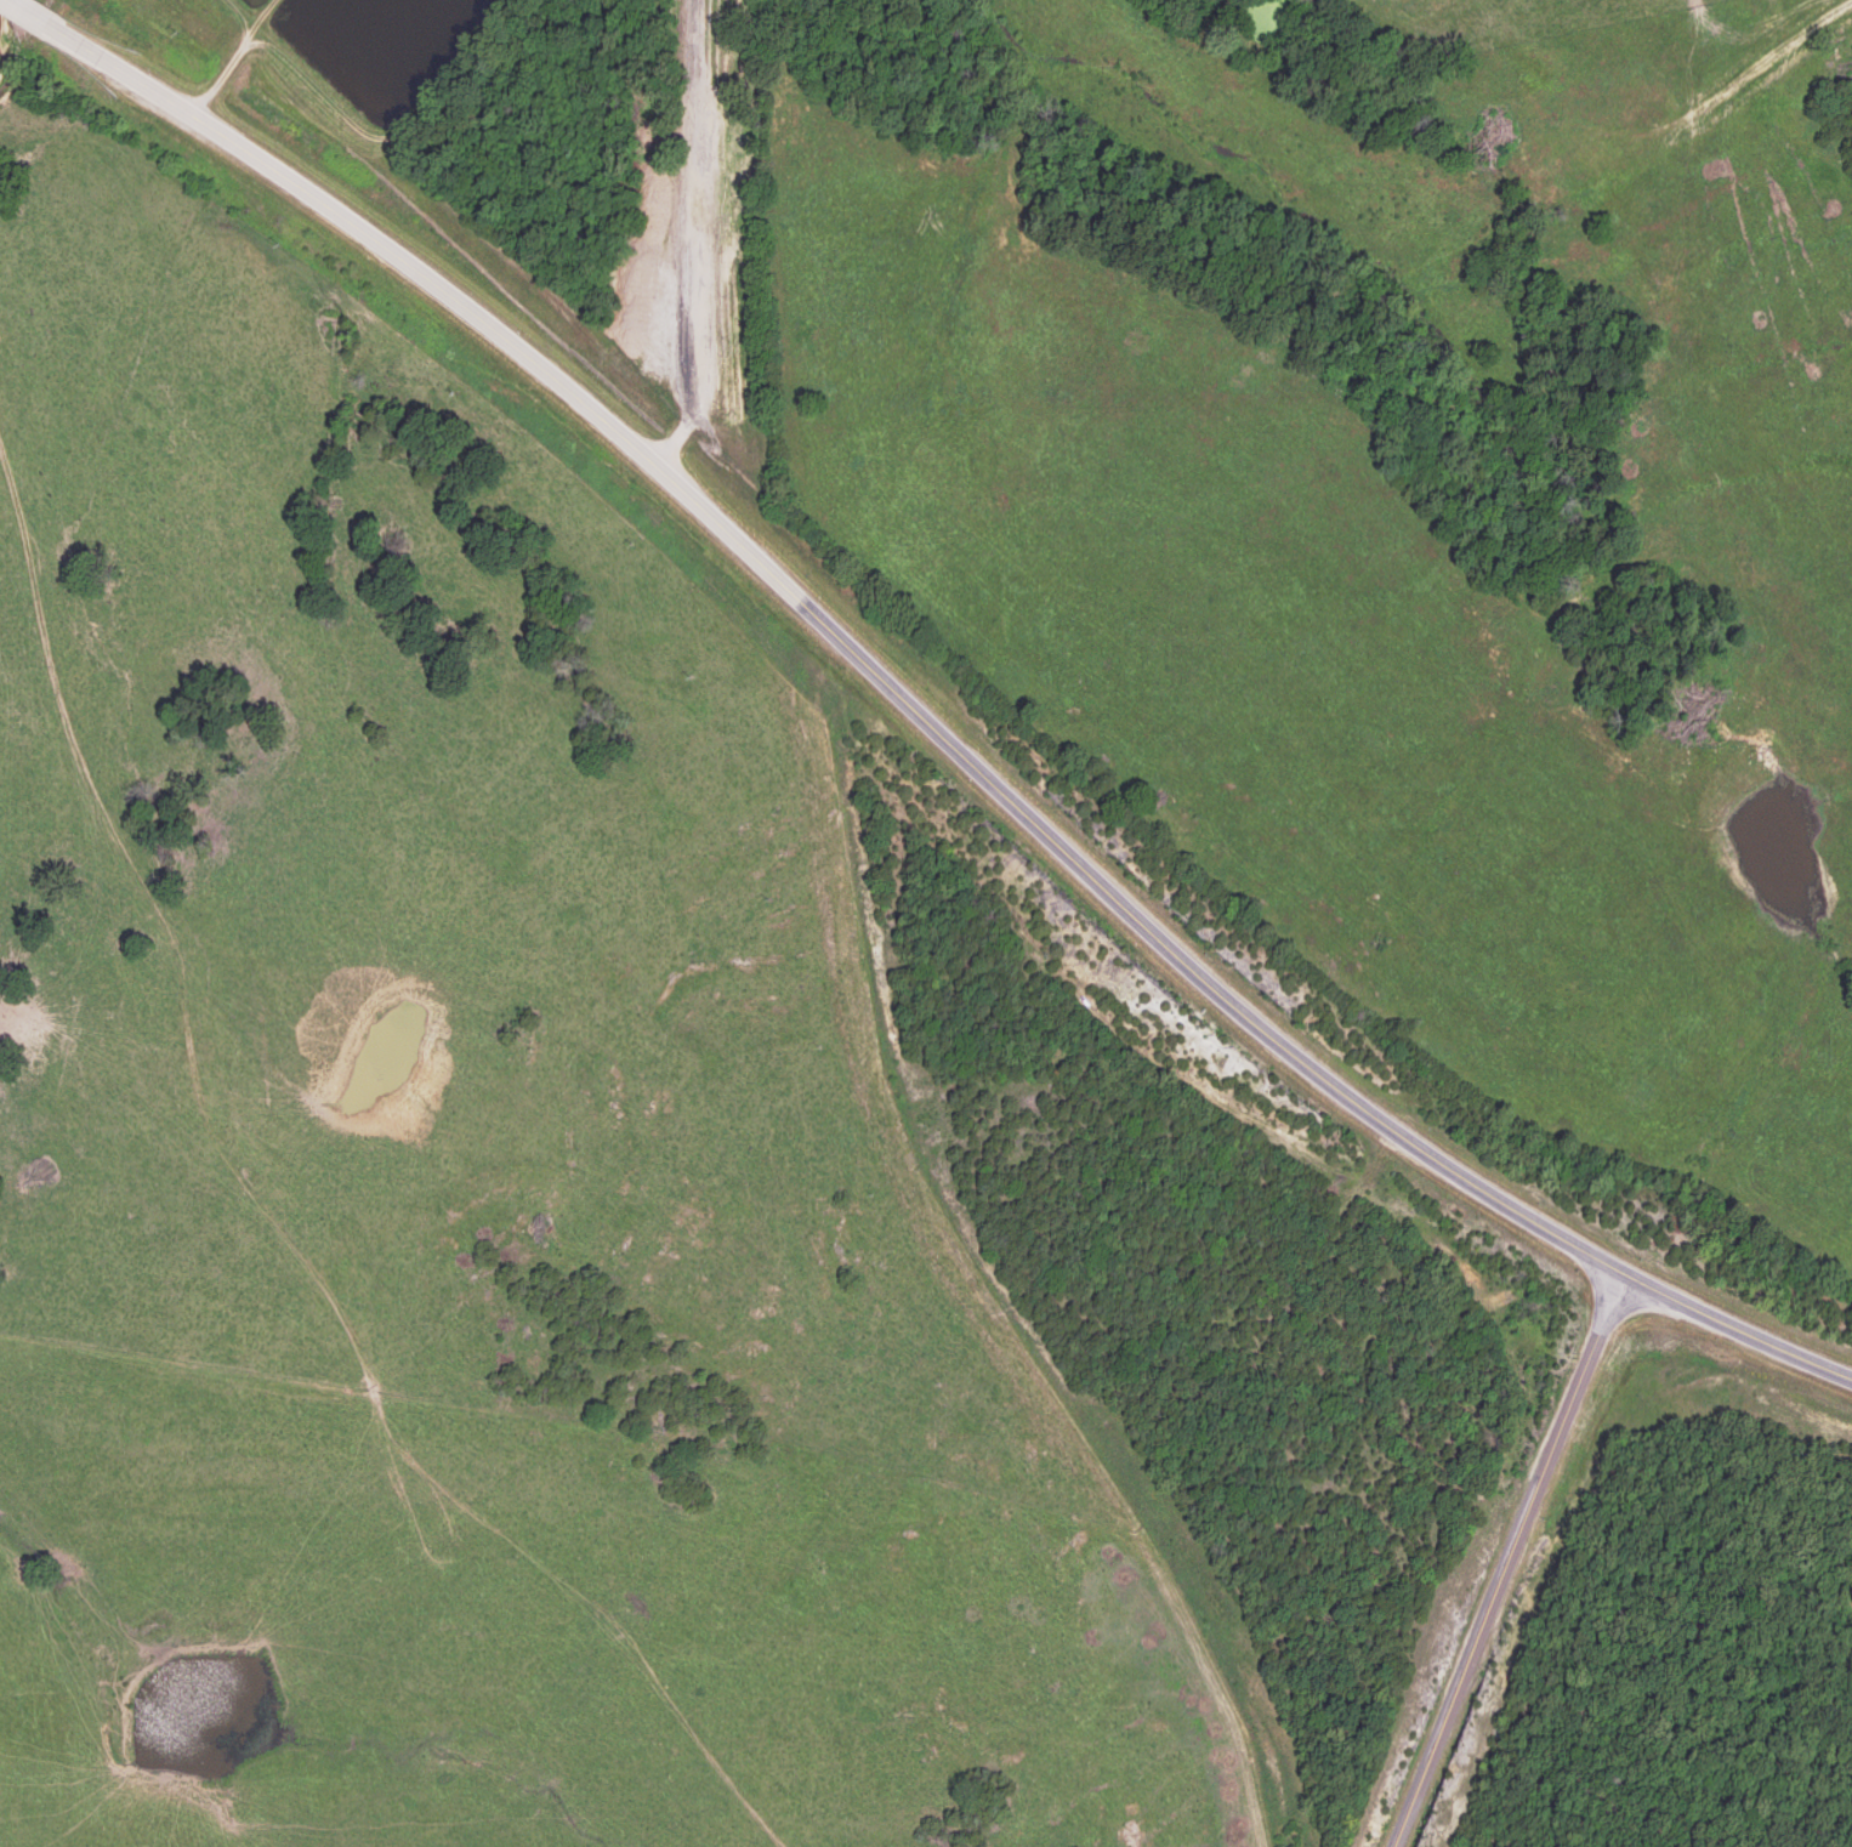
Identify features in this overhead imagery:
road: (178, 110)
road: (1064, 854)
road: (960, 1244)
road: (1500, 1558)

